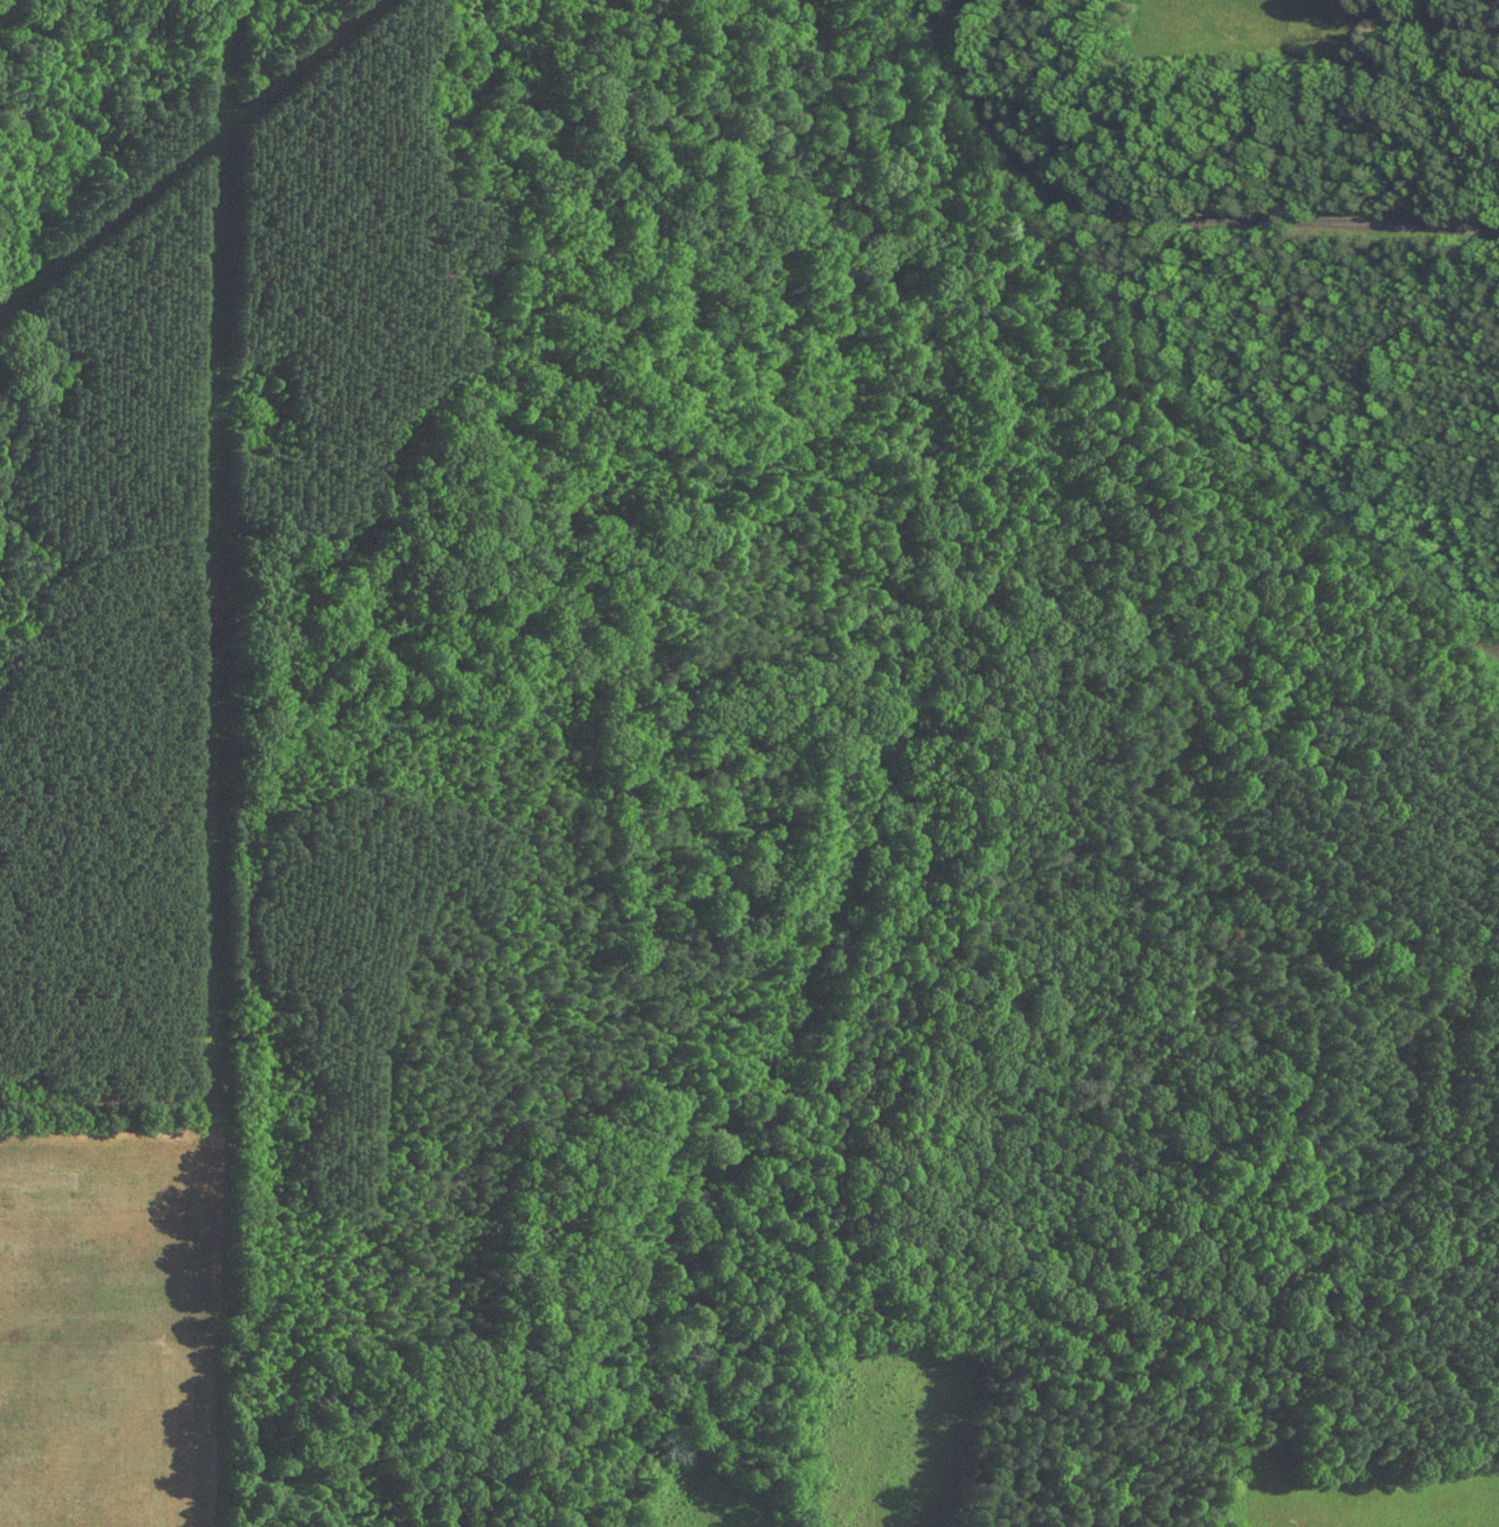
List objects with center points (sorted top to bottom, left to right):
road: (1464, 47)
road: (1140, 213)

